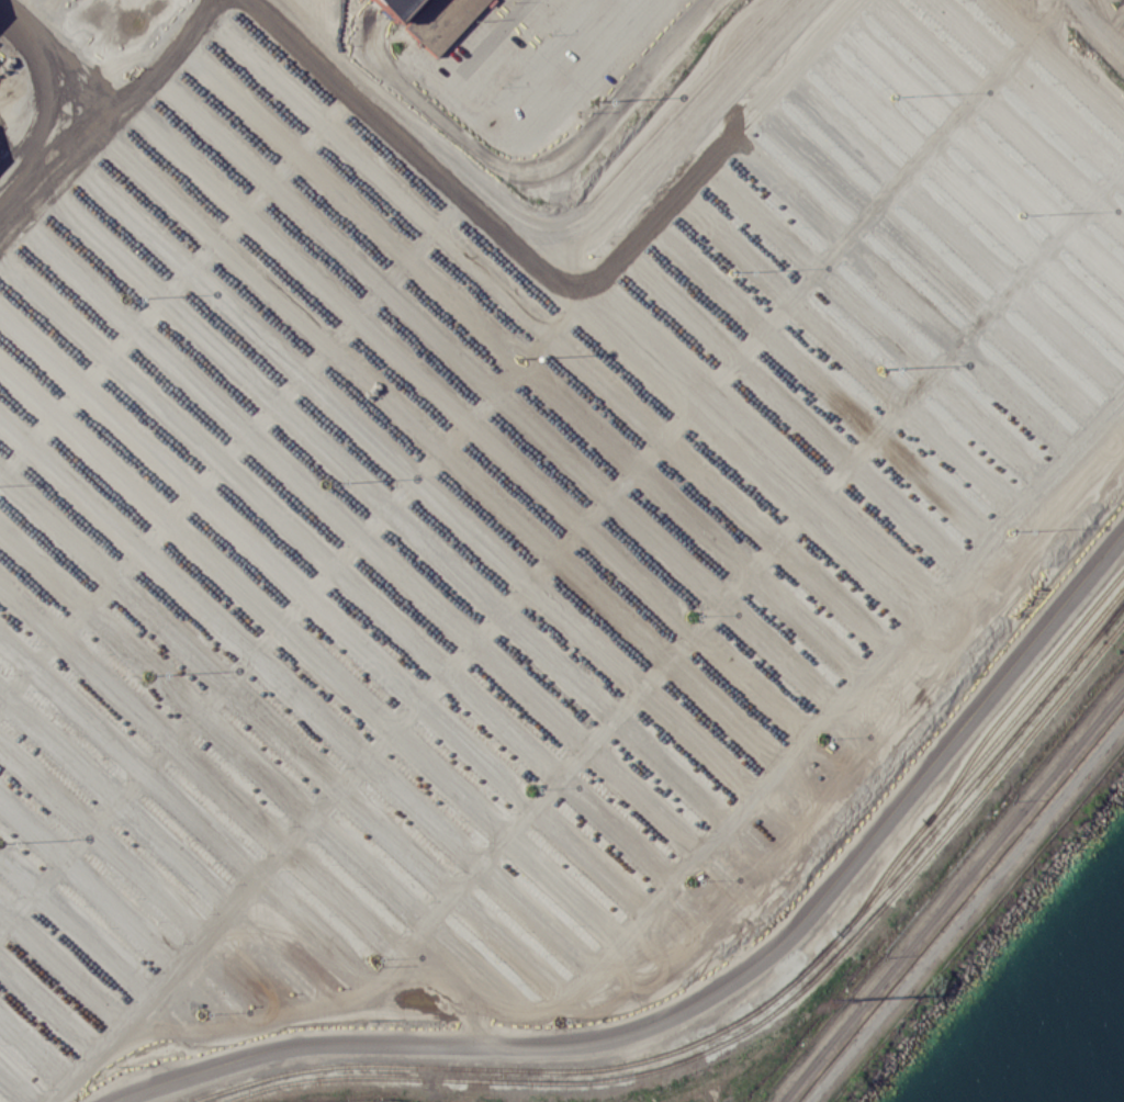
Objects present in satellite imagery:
building: (397, 7)
road: (1102, 27)
road: (45, 119)
road: (11, 155)
road: (514, 204)
road: (561, 531)
road: (490, 642)
railway: (1020, 694)
road: (405, 739)
railway: (979, 758)
road: (962, 909)
road: (708, 993)
railway: (742, 1016)
railway: (756, 1022)
road: (124, 1023)

